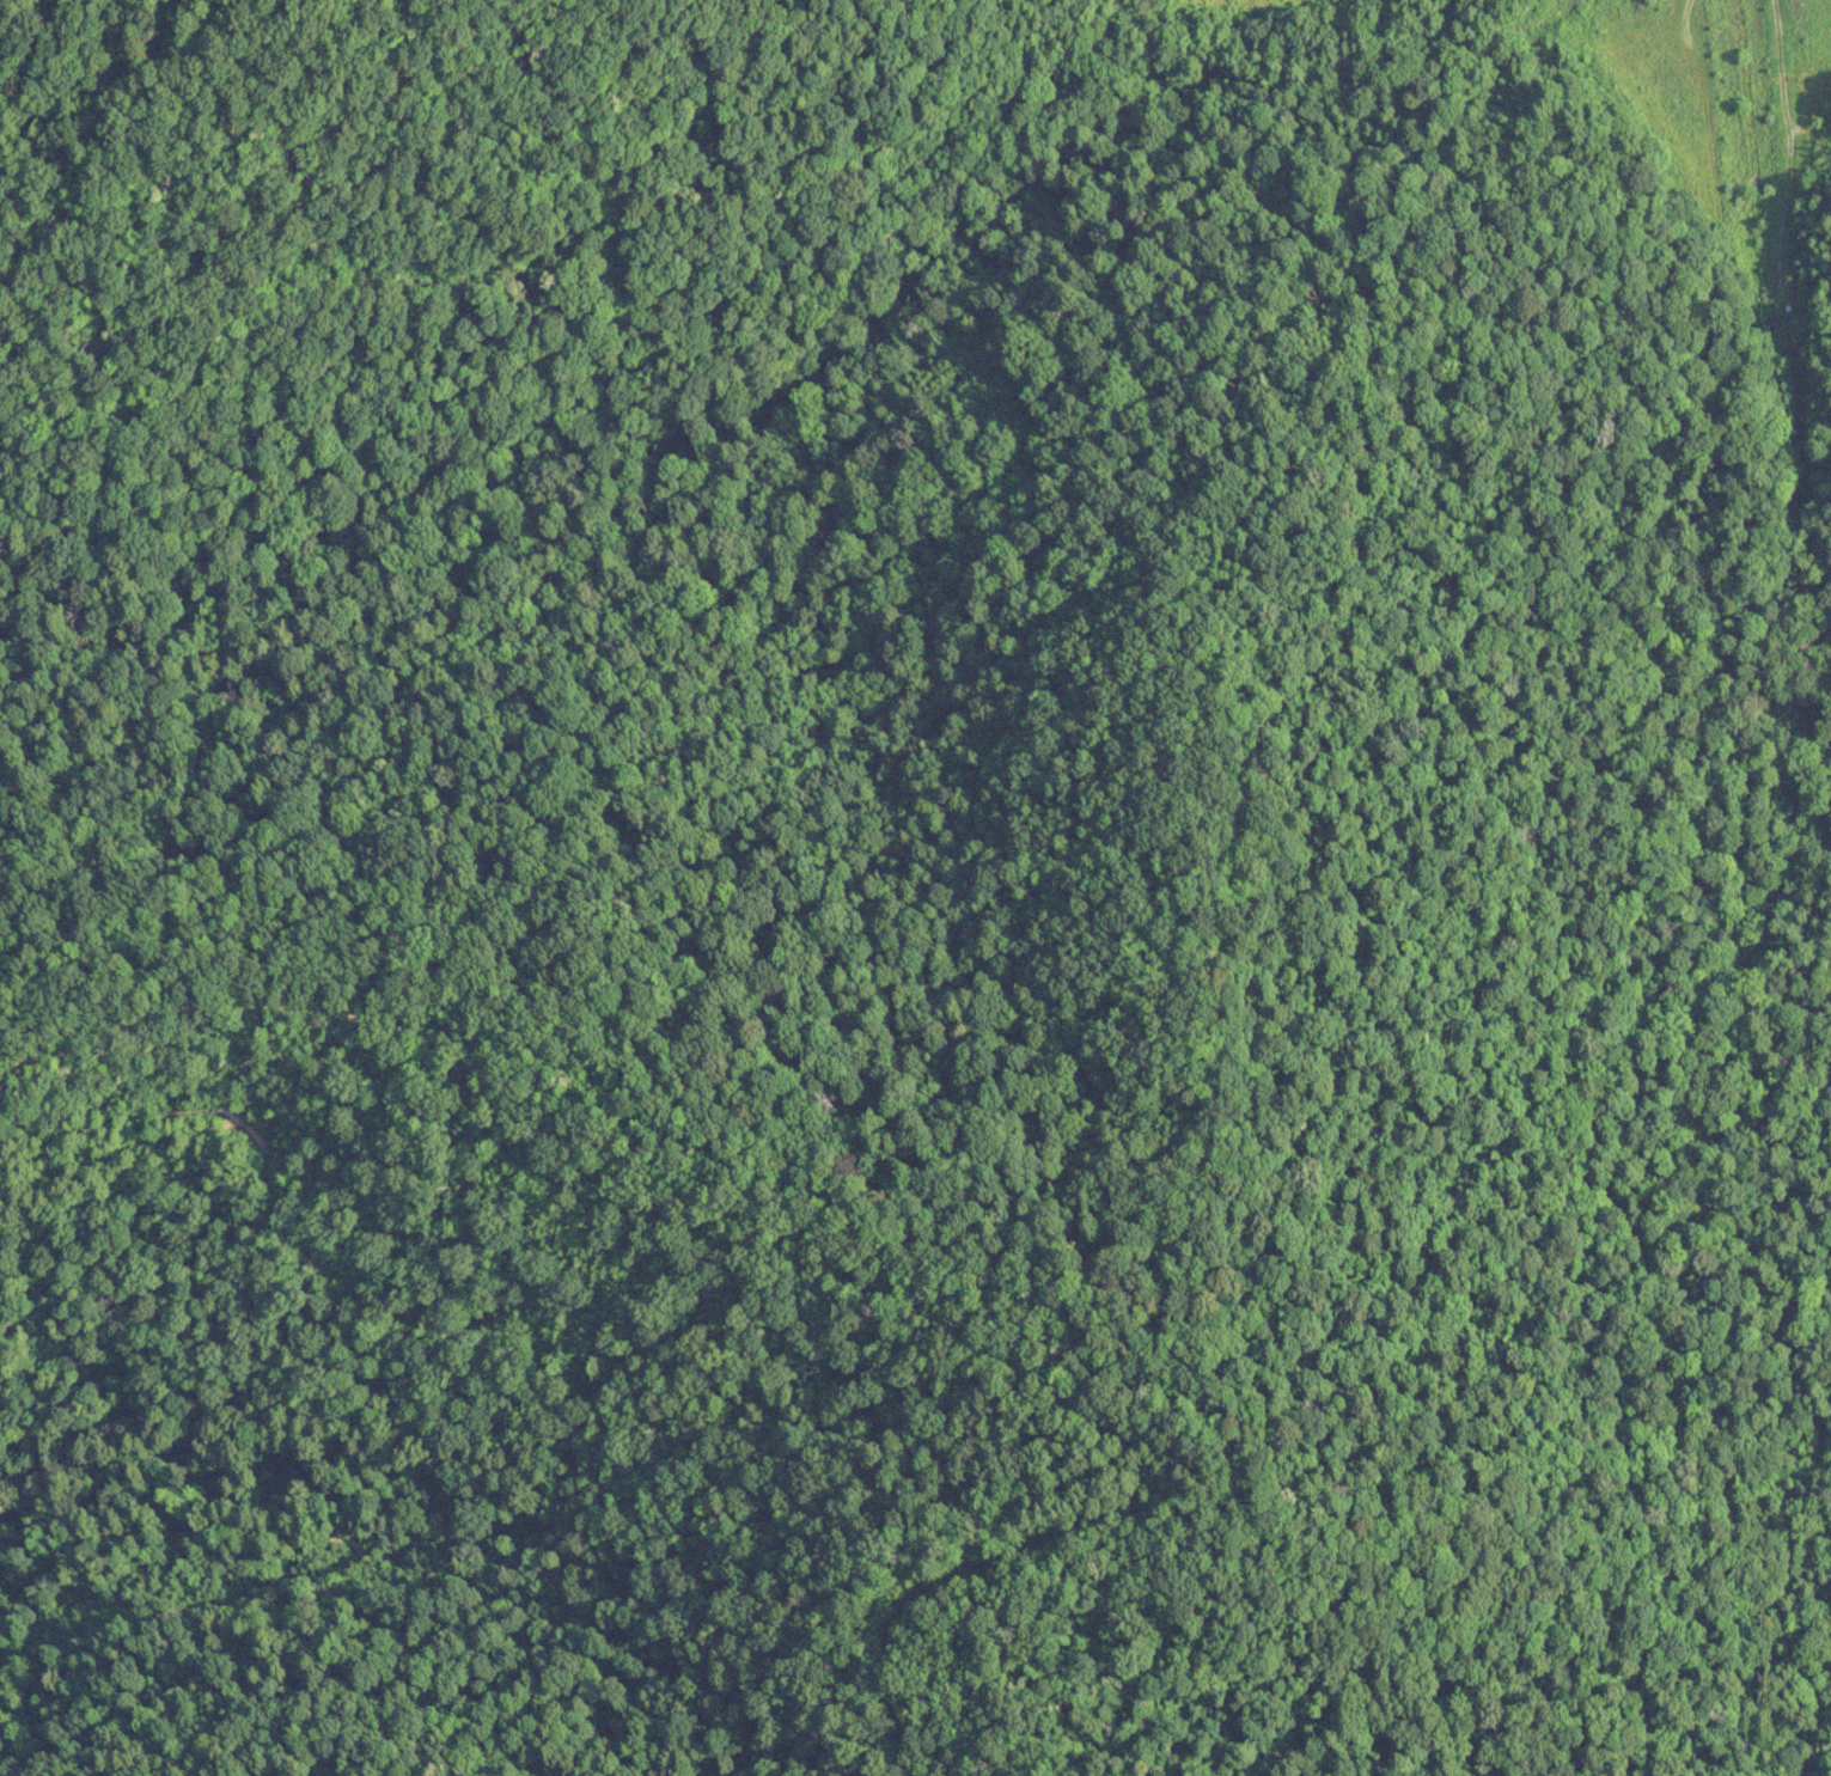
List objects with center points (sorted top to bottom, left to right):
quarry: (1709, 78)
road: (765, 1263)

